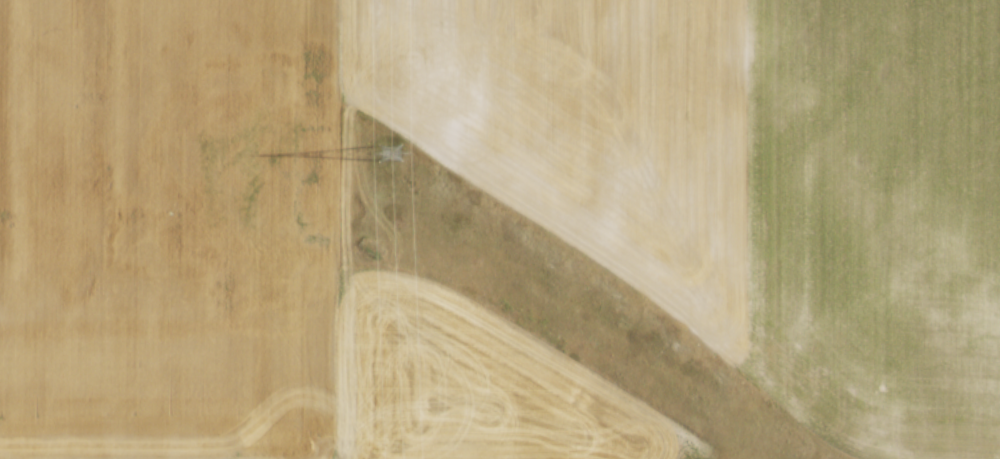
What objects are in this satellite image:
power tower: (383, 151)

